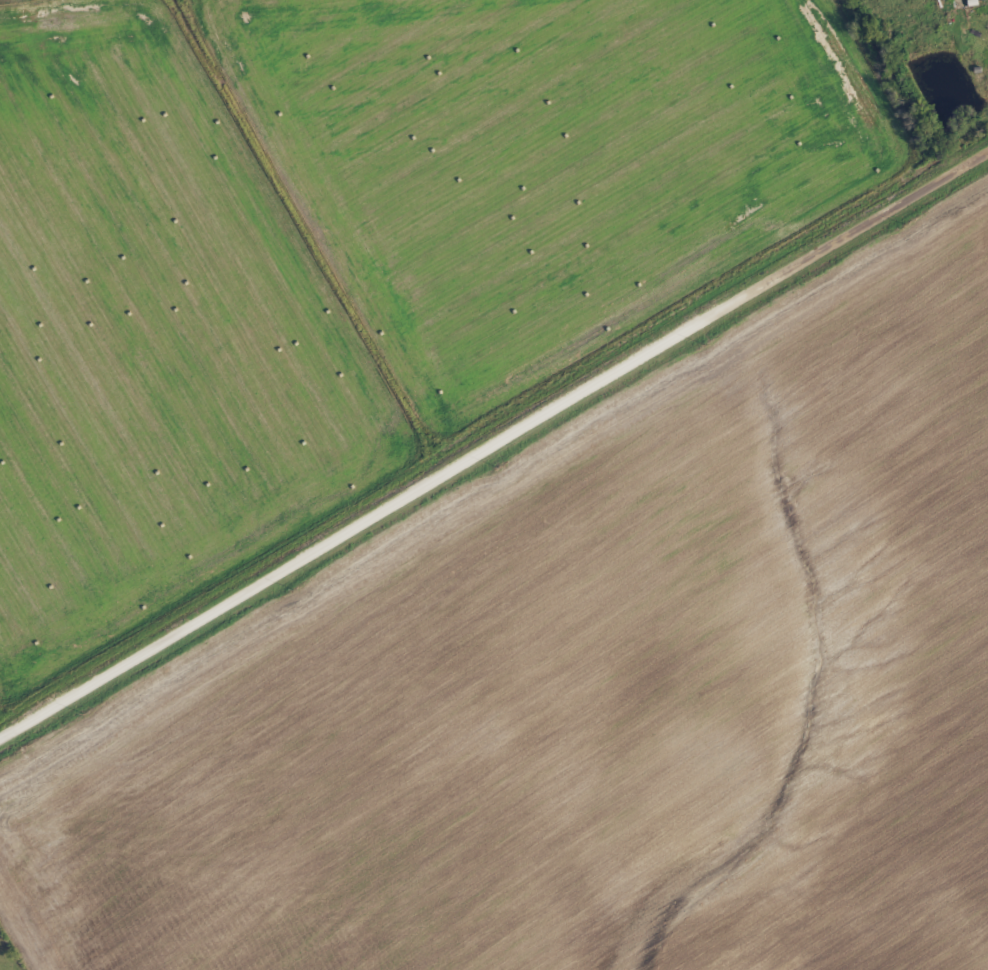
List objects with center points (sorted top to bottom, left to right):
road: (494, 446)

